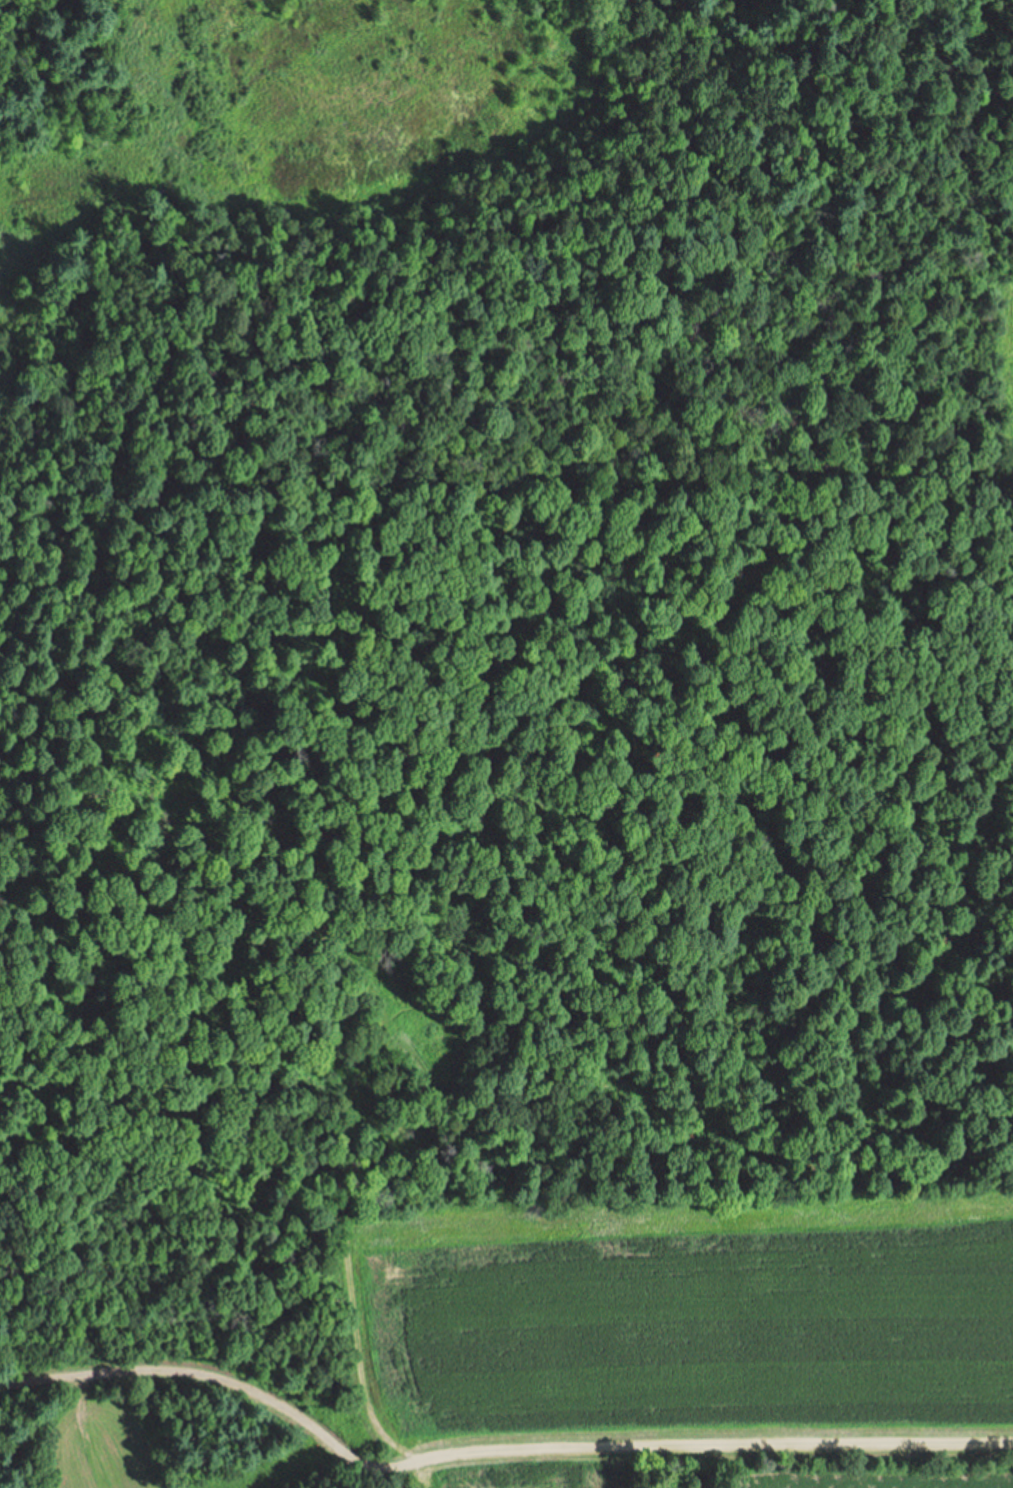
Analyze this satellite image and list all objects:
road: (733, 1454)

